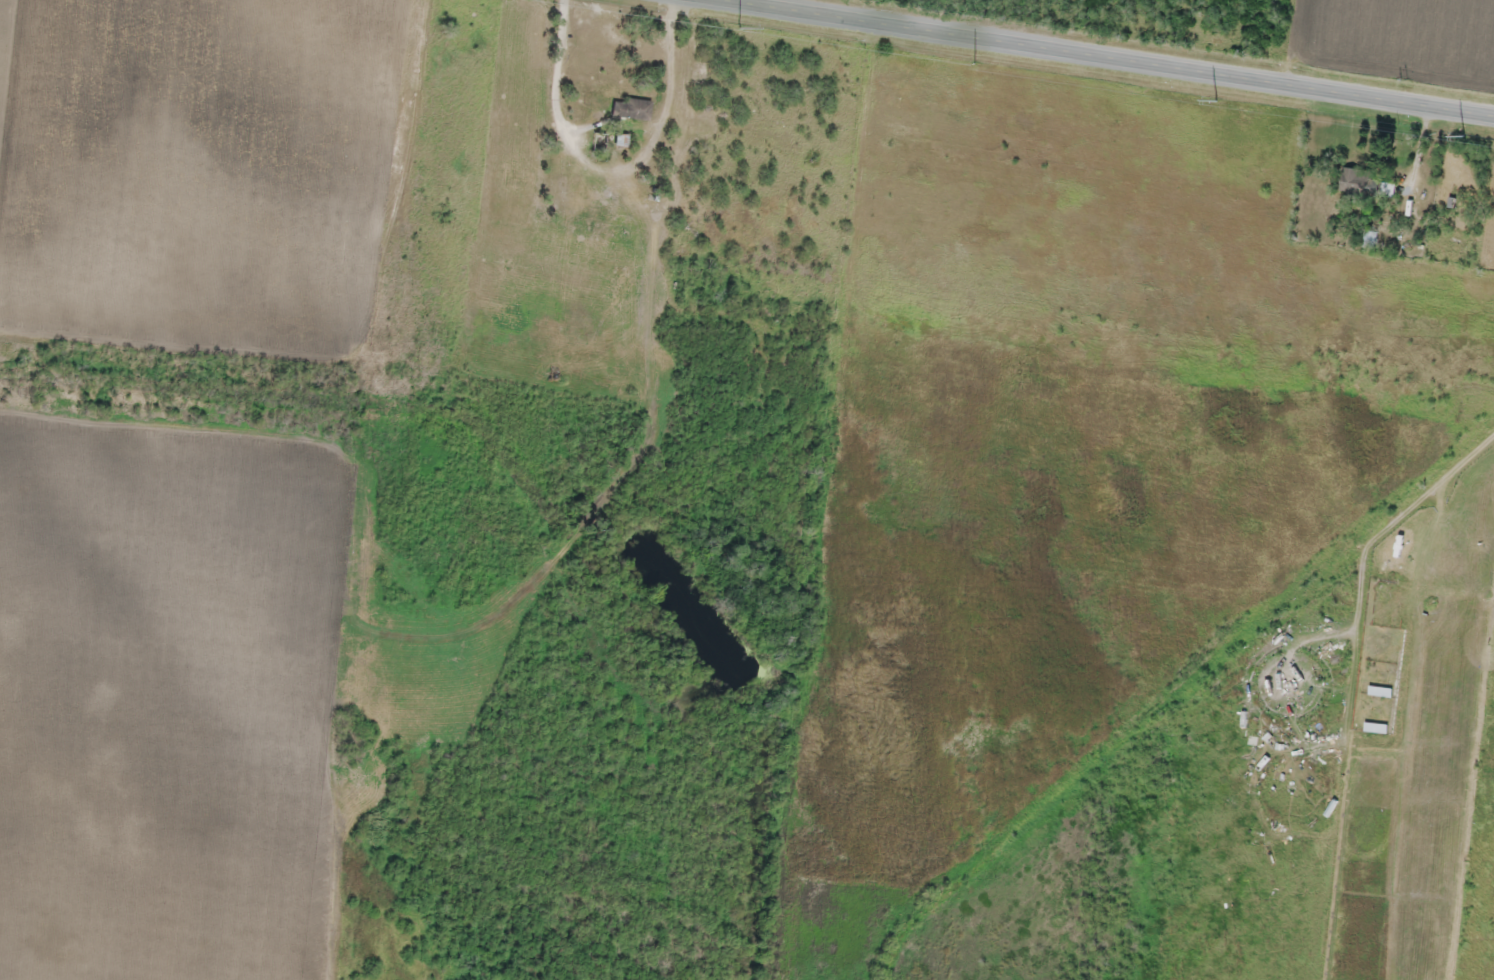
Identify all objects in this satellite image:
road: (1103, 58)
building: (631, 107)
building: (1358, 181)

